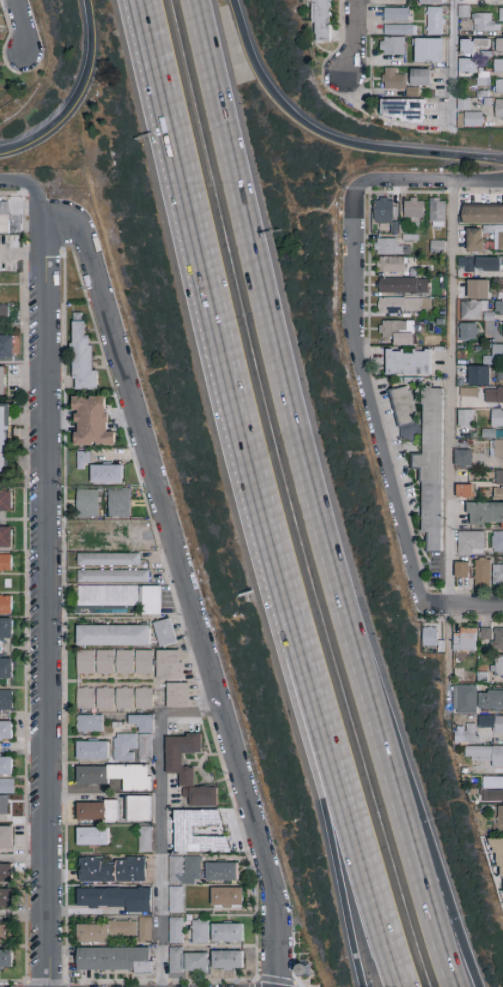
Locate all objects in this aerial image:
building: (431, 1)
building: (396, 14)
building: (501, 14)
building: (319, 19)
building: (434, 20)
building: (483, 21)
road: (25, 24)
building: (398, 29)
road: (355, 38)
road: (7, 40)
building: (499, 44)
building: (392, 45)
building: (472, 45)
building: (428, 49)
road: (451, 58)
building: (498, 65)
building: (473, 70)
building: (419, 77)
building: (387, 78)
road: (362, 84)
building: (411, 91)
road: (77, 95)
road: (345, 97)
building: (403, 108)
building: (498, 108)
road: (489, 112)
building: (472, 118)
road: (330, 136)
road: (28, 178)
road: (442, 182)
building: (413, 208)
building: (383, 210)
building: (437, 212)
building: (482, 214)
building: (4, 217)
building: (393, 227)
building: (496, 235)
building: (474, 240)
building: (390, 246)
building: (391, 264)
building: (478, 264)
building: (402, 285)
building: (477, 289)
road: (213, 301)
building: (404, 304)
building: (498, 305)
building: (3, 311)
building: (502, 329)
building: (398, 331)
building: (467, 331)
building: (6, 347)
building: (81, 356)
building: (496, 359)
building: (407, 363)
building: (478, 375)
building: (2, 381)
road: (370, 390)
building: (467, 391)
road: (450, 394)
building: (493, 395)
building: (405, 413)
building: (464, 417)
building: (496, 418)
building: (91, 422)
building: (4, 443)
building: (497, 449)
building: (462, 458)
building: (81, 459)
building: (431, 468)
building: (105, 474)
building: (498, 484)
building: (464, 490)
road: (315, 497)
building: (5, 501)
building: (86, 503)
building: (118, 503)
building: (485, 513)
building: (107, 535)
building: (5, 536)
road: (177, 541)
building: (470, 542)
building: (497, 542)
building: (107, 558)
building: (5, 561)
building: (461, 569)
building: (482, 572)
building: (497, 574)
building: (112, 575)
road: (46, 594)
building: (121, 595)
building: (5, 603)
road: (464, 606)
building: (164, 631)
building: (485, 632)
building: (112, 634)
building: (429, 635)
building: (498, 638)
building: (465, 639)
road: (448, 659)
building: (85, 661)
building: (114, 661)
building: (143, 661)
building: (168, 663)
building: (498, 665)
building: (177, 694)
building: (85, 697)
building: (104, 697)
building: (124, 697)
building: (143, 697)
building: (5, 698)
building: (466, 698)
building: (490, 699)
building: (142, 722)
building: (493, 722)
building: (89, 723)
building: (5, 729)
building: (465, 732)
building: (124, 746)
building: (144, 746)
building: (91, 748)
building: (485, 753)
building: (5, 764)
building: (187, 768)
building: (115, 774)
building: (492, 788)
building: (5, 792)
road: (347, 793)
road: (319, 794)
building: (138, 807)
building: (96, 809)
road: (165, 818)
building: (498, 820)
building: (182, 829)
building: (91, 835)
building: (5, 836)
building: (144, 838)
building: (130, 868)
building: (184, 868)
building: (95, 869)
building: (500, 869)
building: (221, 870)
building: (5, 871)
building: (226, 895)
building: (5, 896)
building: (115, 897)
building: (174, 898)
building: (122, 927)
building: (144, 929)
building: (5, 932)
building: (92, 932)
building: (179, 933)
building: (204, 935)
building: (232, 935)
road: (447, 939)
road: (276, 946)
building: (5, 958)
building: (113, 958)
building: (232, 961)
building: (191, 963)

